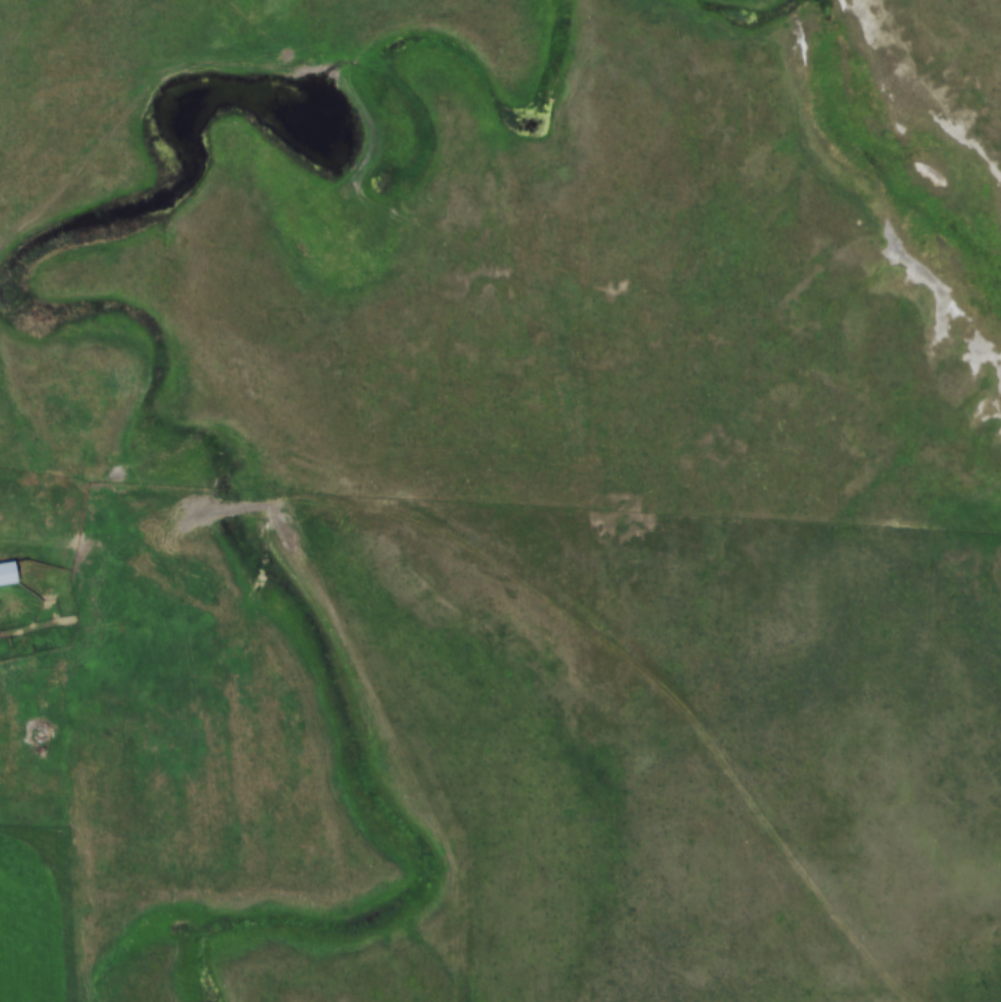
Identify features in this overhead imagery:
building: (6, 573)

